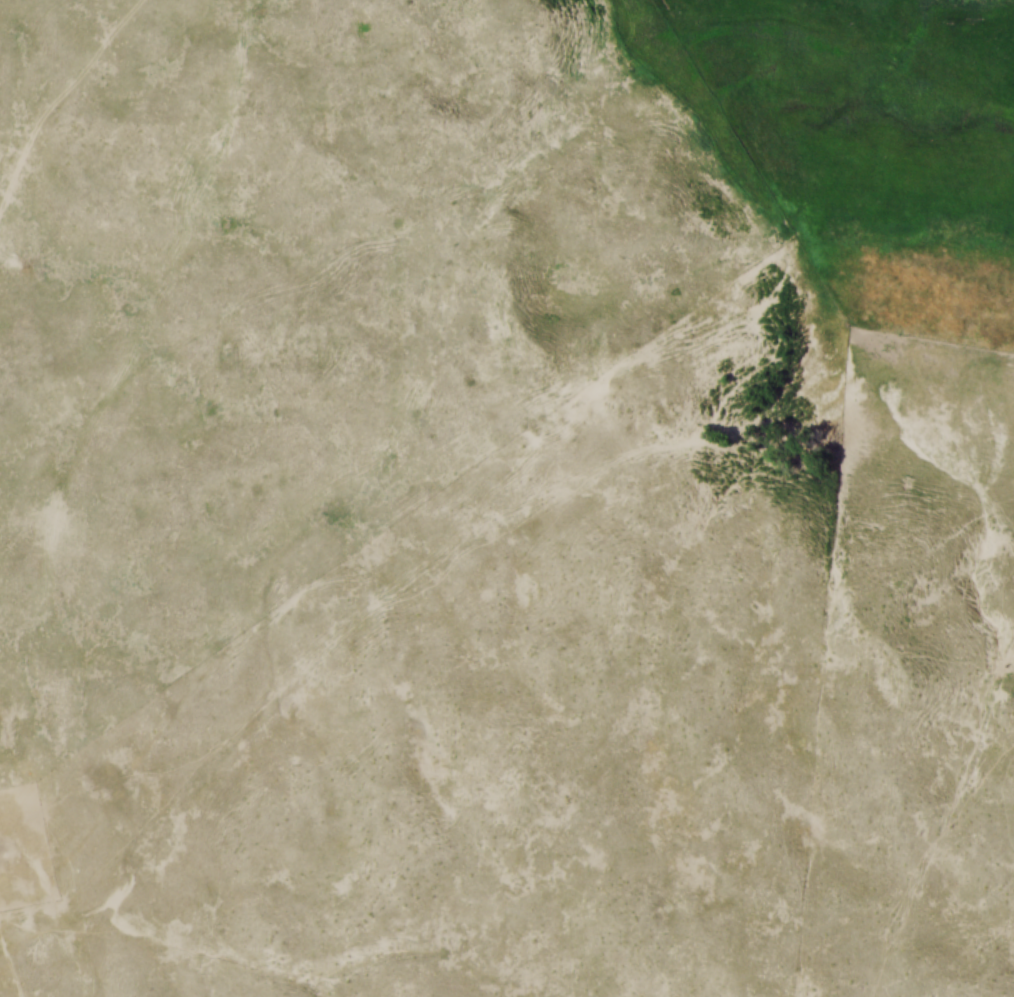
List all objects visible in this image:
airport runway: (938, 350)

